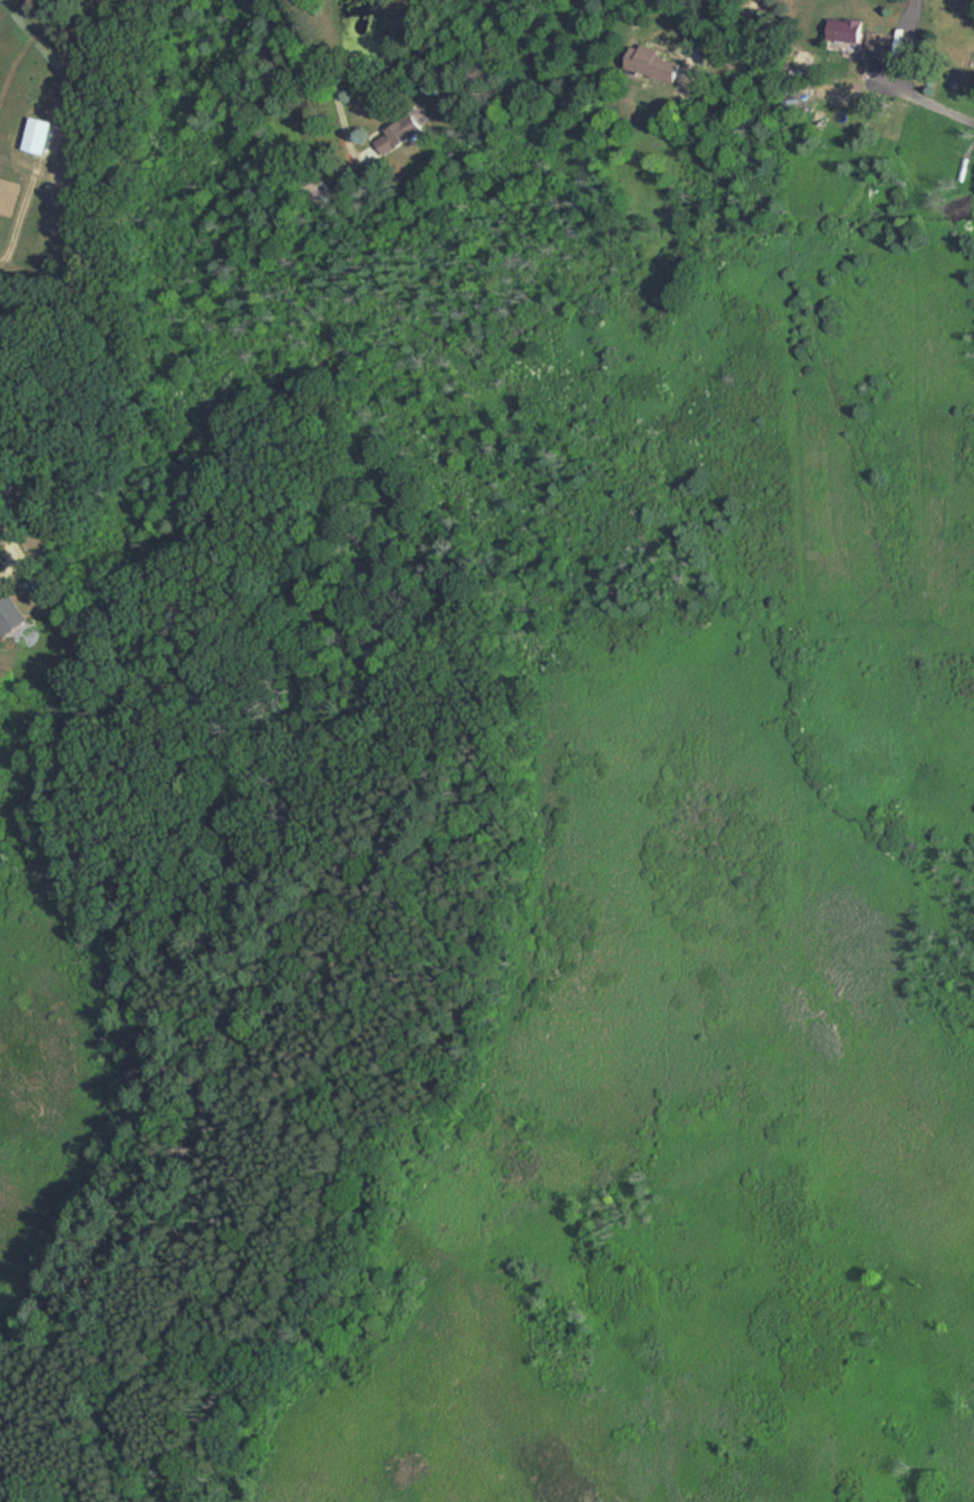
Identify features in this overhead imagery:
building: (844, 30)
road: (727, 39)
building: (877, 41)
building: (653, 63)
road: (325, 74)
road: (924, 91)
building: (398, 134)
building: (316, 186)
road: (12, 544)
building: (9, 614)
park: (490, 1077)

